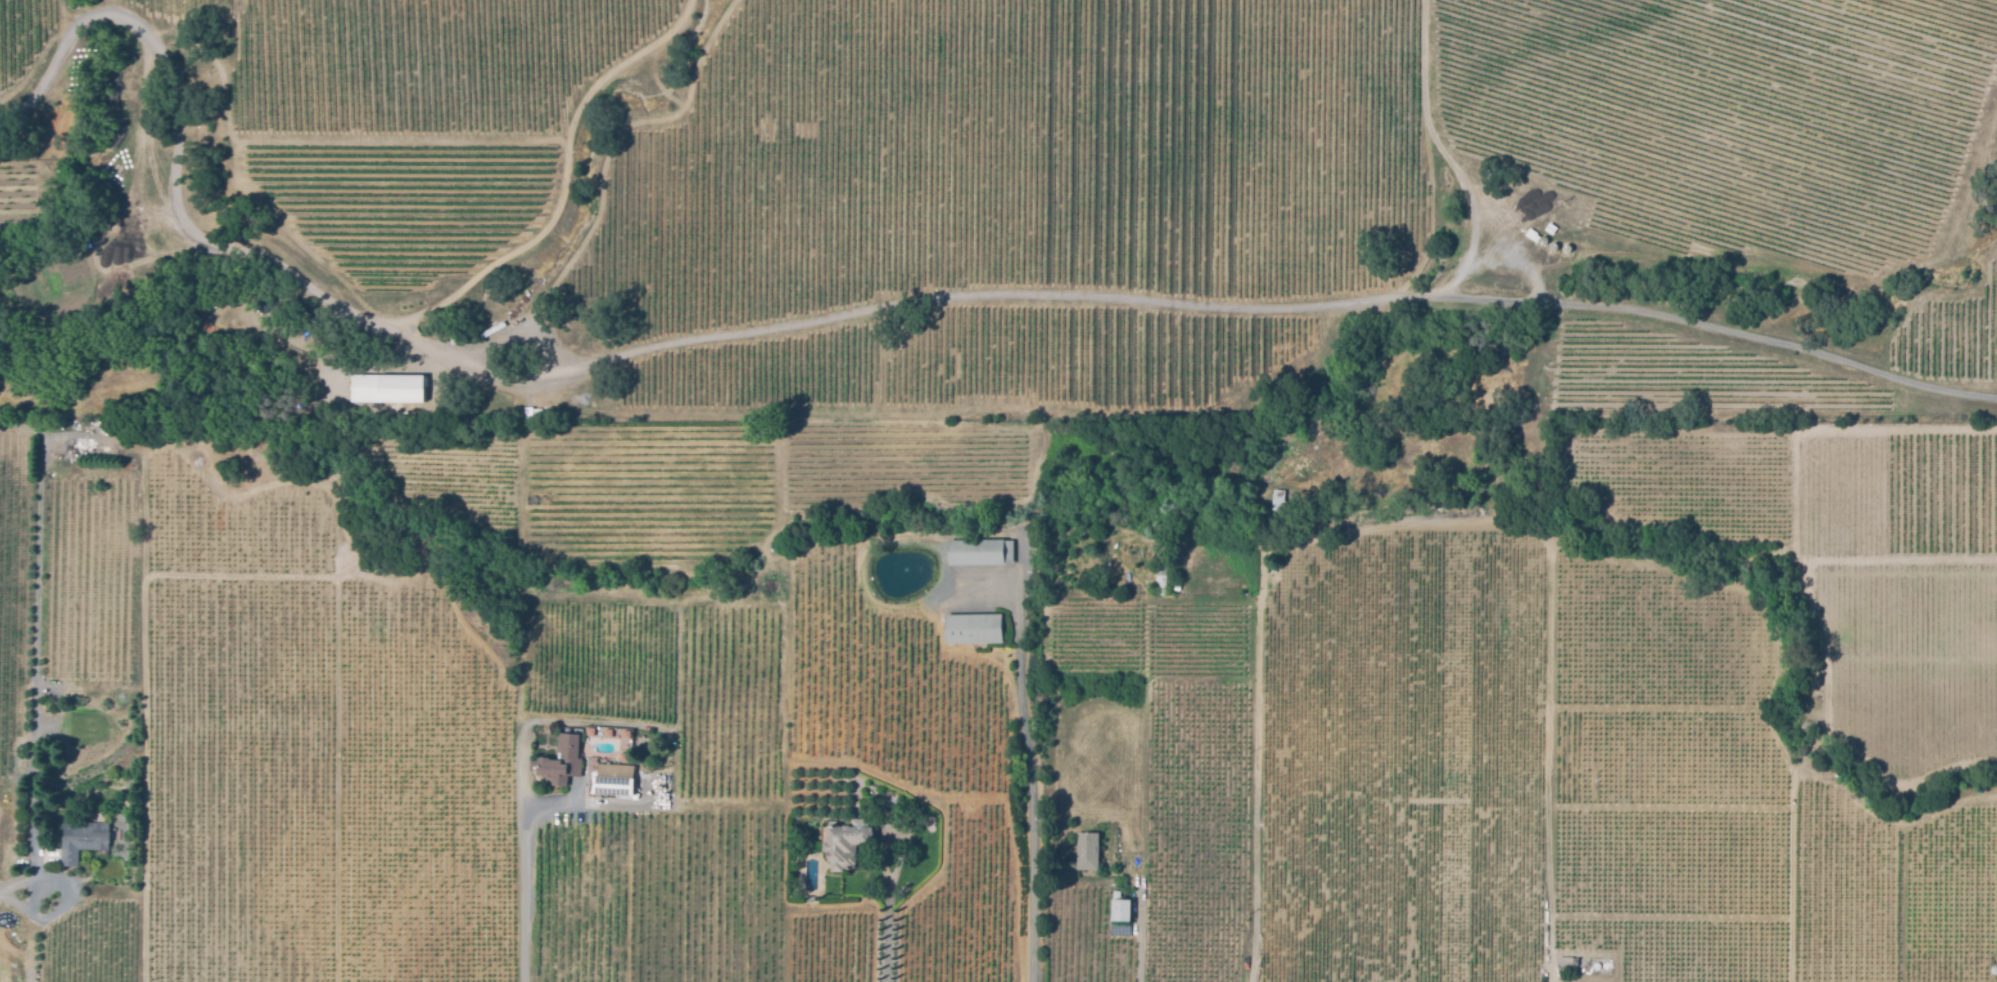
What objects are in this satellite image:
road: (558, 179)
building: (1550, 227)
building: (1532, 234)
road: (870, 314)
road: (520, 328)
building: (455, 338)
building: (385, 387)
building: (532, 415)
building: (99, 451)
building: (1278, 499)
building: (982, 552)
building: (1162, 578)
building: (1103, 579)
building: (975, 628)
road: (36, 715)
building: (645, 749)
building: (560, 760)
building: (611, 779)
road: (1029, 794)
building: (81, 843)
building: (845, 844)
building: (1087, 851)
road: (524, 888)
building: (1120, 911)
road: (886, 927)
road: (1140, 959)
building: (1566, 963)

